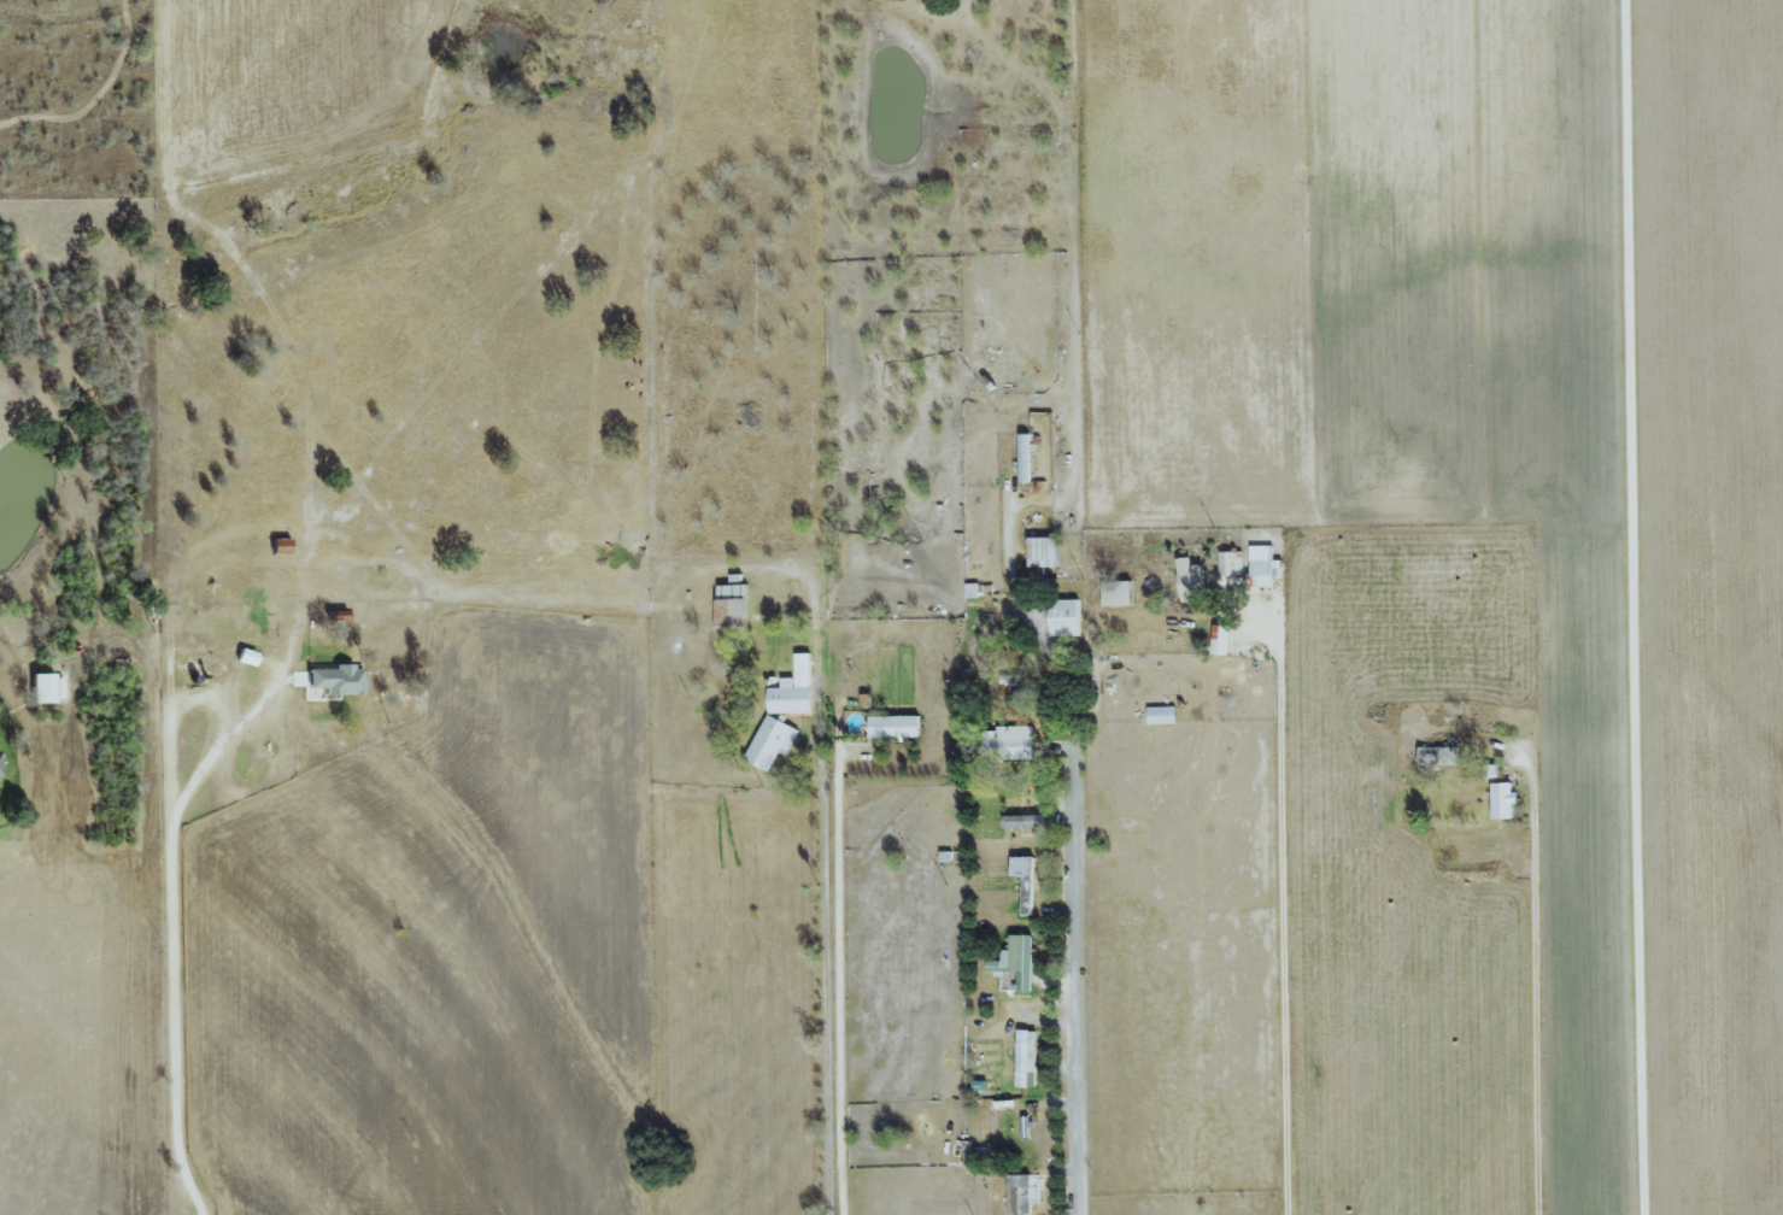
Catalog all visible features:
building: (1026, 457)
building: (282, 545)
building: (1044, 551)
building: (1263, 565)
building: (1191, 580)
building: (1118, 592)
building: (733, 604)
road: (1638, 607)
building: (1066, 617)
road: (1030, 624)
building: (1221, 639)
building: (339, 679)
building: (43, 687)
building: (794, 688)
building: (1162, 714)
building: (896, 726)
building: (772, 741)
building: (1010, 742)
building: (0, 765)
building: (1503, 799)
building: (1032, 820)
building: (1026, 879)
road: (1280, 900)
road: (171, 949)
road: (823, 959)
building: (1017, 961)
road: (1074, 965)
road: (1532, 993)
building: (1028, 1057)
building: (1020, 1193)

